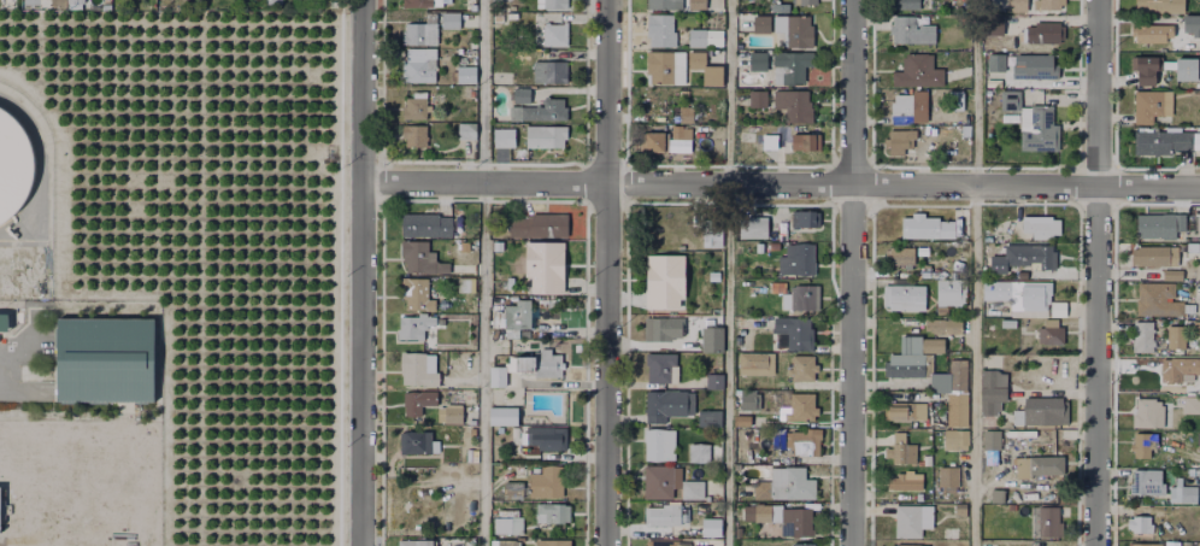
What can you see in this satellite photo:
building: (808, 0)
building: (417, 2)
building: (552, 2)
building: (664, 4)
building: (698, 4)
building: (902, 5)
building: (1049, 5)
building: (1017, 6)
building: (1160, 6)
building: (777, 8)
building: (770, 23)
building: (994, 24)
building: (1193, 24)
building: (429, 27)
building: (661, 29)
building: (800, 30)
building: (911, 31)
building: (1043, 31)
building: (1153, 31)
building: (555, 33)
building: (705, 36)
building: (758, 60)
building: (995, 61)
building: (1147, 61)
building: (419, 66)
building: (666, 66)
building: (1039, 66)
building: (705, 67)
building: (790, 67)
building: (552, 71)
building: (918, 71)
building: (466, 72)
building: (1186, 72)
building: (502, 76)
building: (519, 94)
building: (760, 96)
building: (955, 99)
building: (901, 102)
building: (798, 104)
building: (416, 106)
building: (919, 106)
building: (1153, 107)
building: (541, 111)
building: (687, 113)
building: (1033, 123)
building: (467, 130)
building: (966, 131)
building: (414, 134)
building: (804, 134)
building: (547, 135)
building: (504, 136)
building: (666, 140)
building: (899, 140)
building: (769, 142)
building: (804, 142)
building: (1166, 142)
building: (13, 169)
storage tank: (13, 169)
road: (783, 183)
building: (806, 218)
building: (924, 221)
building: (1039, 222)
building: (425, 223)
building: (540, 225)
building: (753, 225)
building: (1161, 225)
building: (783, 234)
building: (711, 235)
building: (770, 247)
building: (1022, 252)
building: (1151, 254)
building: (420, 256)
building: (901, 256)
building: (796, 258)
building: (545, 266)
road: (366, 272)
road: (483, 272)
road: (608, 272)
road: (727, 272)
road: (852, 272)
road: (973, 272)
road: (1099, 272)
building: (1173, 274)
building: (711, 276)
building: (507, 283)
building: (664, 283)
building: (469, 284)
building: (949, 289)
building: (902, 292)
building: (1030, 292)
building: (417, 293)
building: (796, 295)
building: (1159, 300)
building: (518, 317)
building: (1007, 319)
building: (941, 322)
building: (2, 323)
building: (413, 327)
building: (793, 327)
building: (1048, 328)
building: (1196, 328)
building: (657, 329)
building: (1143, 335)
building: (710, 337)
building: (1175, 337)
building: (918, 340)
building: (753, 359)
building: (104, 362)
building: (799, 364)
building: (523, 365)
building: (777, 365)
building: (663, 366)
building: (927, 366)
building: (1184, 366)
road: (2, 369)
building: (417, 369)
building: (993, 378)
building: (713, 380)
building: (747, 397)
building: (992, 398)
building: (418, 400)
building: (799, 404)
building: (1192, 404)
building: (666, 406)
building: (954, 406)
building: (895, 407)
building: (1043, 410)
building: (1148, 411)
building: (453, 413)
building: (504, 415)
building: (740, 416)
building: (710, 419)
building: (952, 435)
building: (547, 438)
building: (801, 438)
building: (414, 440)
building: (988, 441)
building: (659, 444)
building: (1145, 444)
building: (899, 445)
building: (699, 452)
building: (1035, 462)
building: (945, 476)
building: (902, 477)
building: (782, 480)
building: (545, 481)
building: (1148, 482)
building: (677, 485)
building: (513, 488)
building: (998, 494)
building: (1189, 494)
building: (552, 511)
building: (663, 513)
building: (787, 518)
building: (914, 521)
building: (1046, 522)
building: (508, 524)
building: (1140, 524)
building: (712, 526)
building: (951, 532)
building: (414, 542)
building: (505, 542)
building: (553, 542)
building: (667, 542)
building: (807, 544)
building: (701, 545)
building: (910, 545)
building: (1145, 545)

